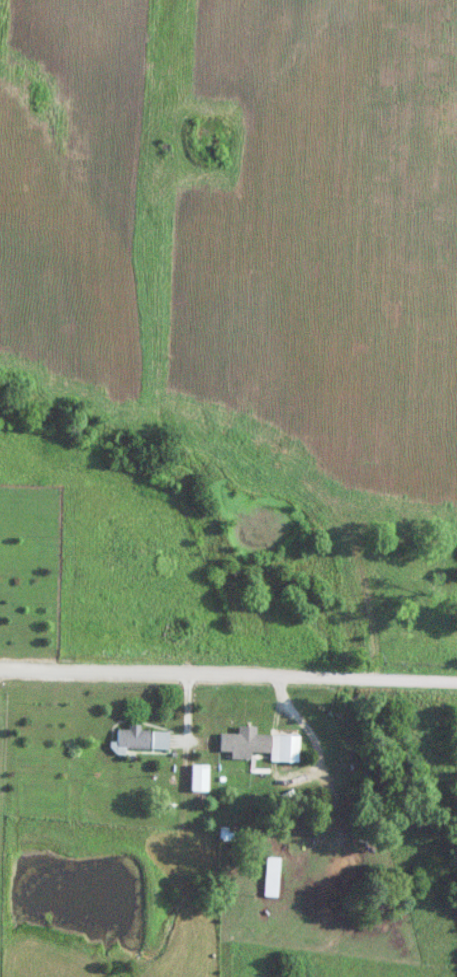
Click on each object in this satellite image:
road: (228, 681)
building: (142, 739)
building: (262, 744)
building: (202, 777)
road: (318, 791)
building: (274, 876)

